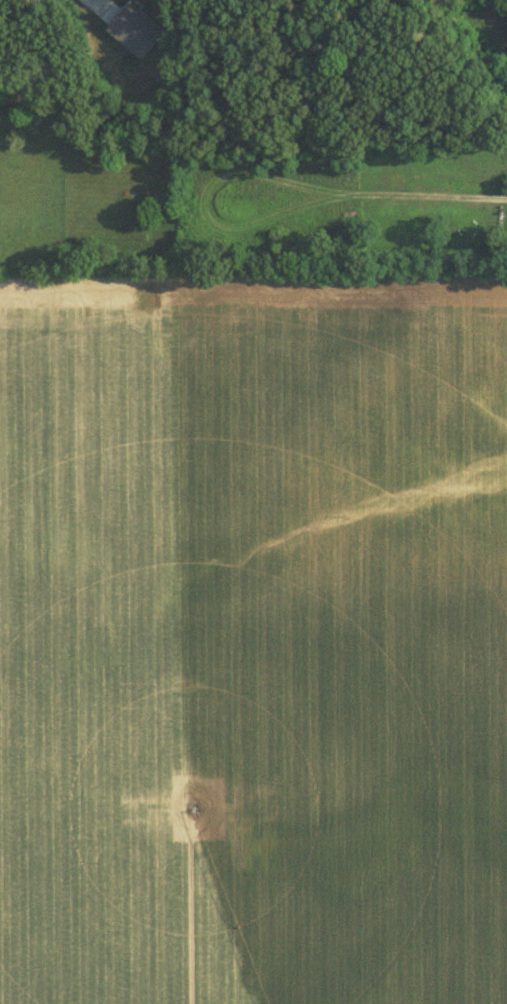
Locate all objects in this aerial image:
building: (134, 27)
road: (39, 52)
crop: (253, 631)

